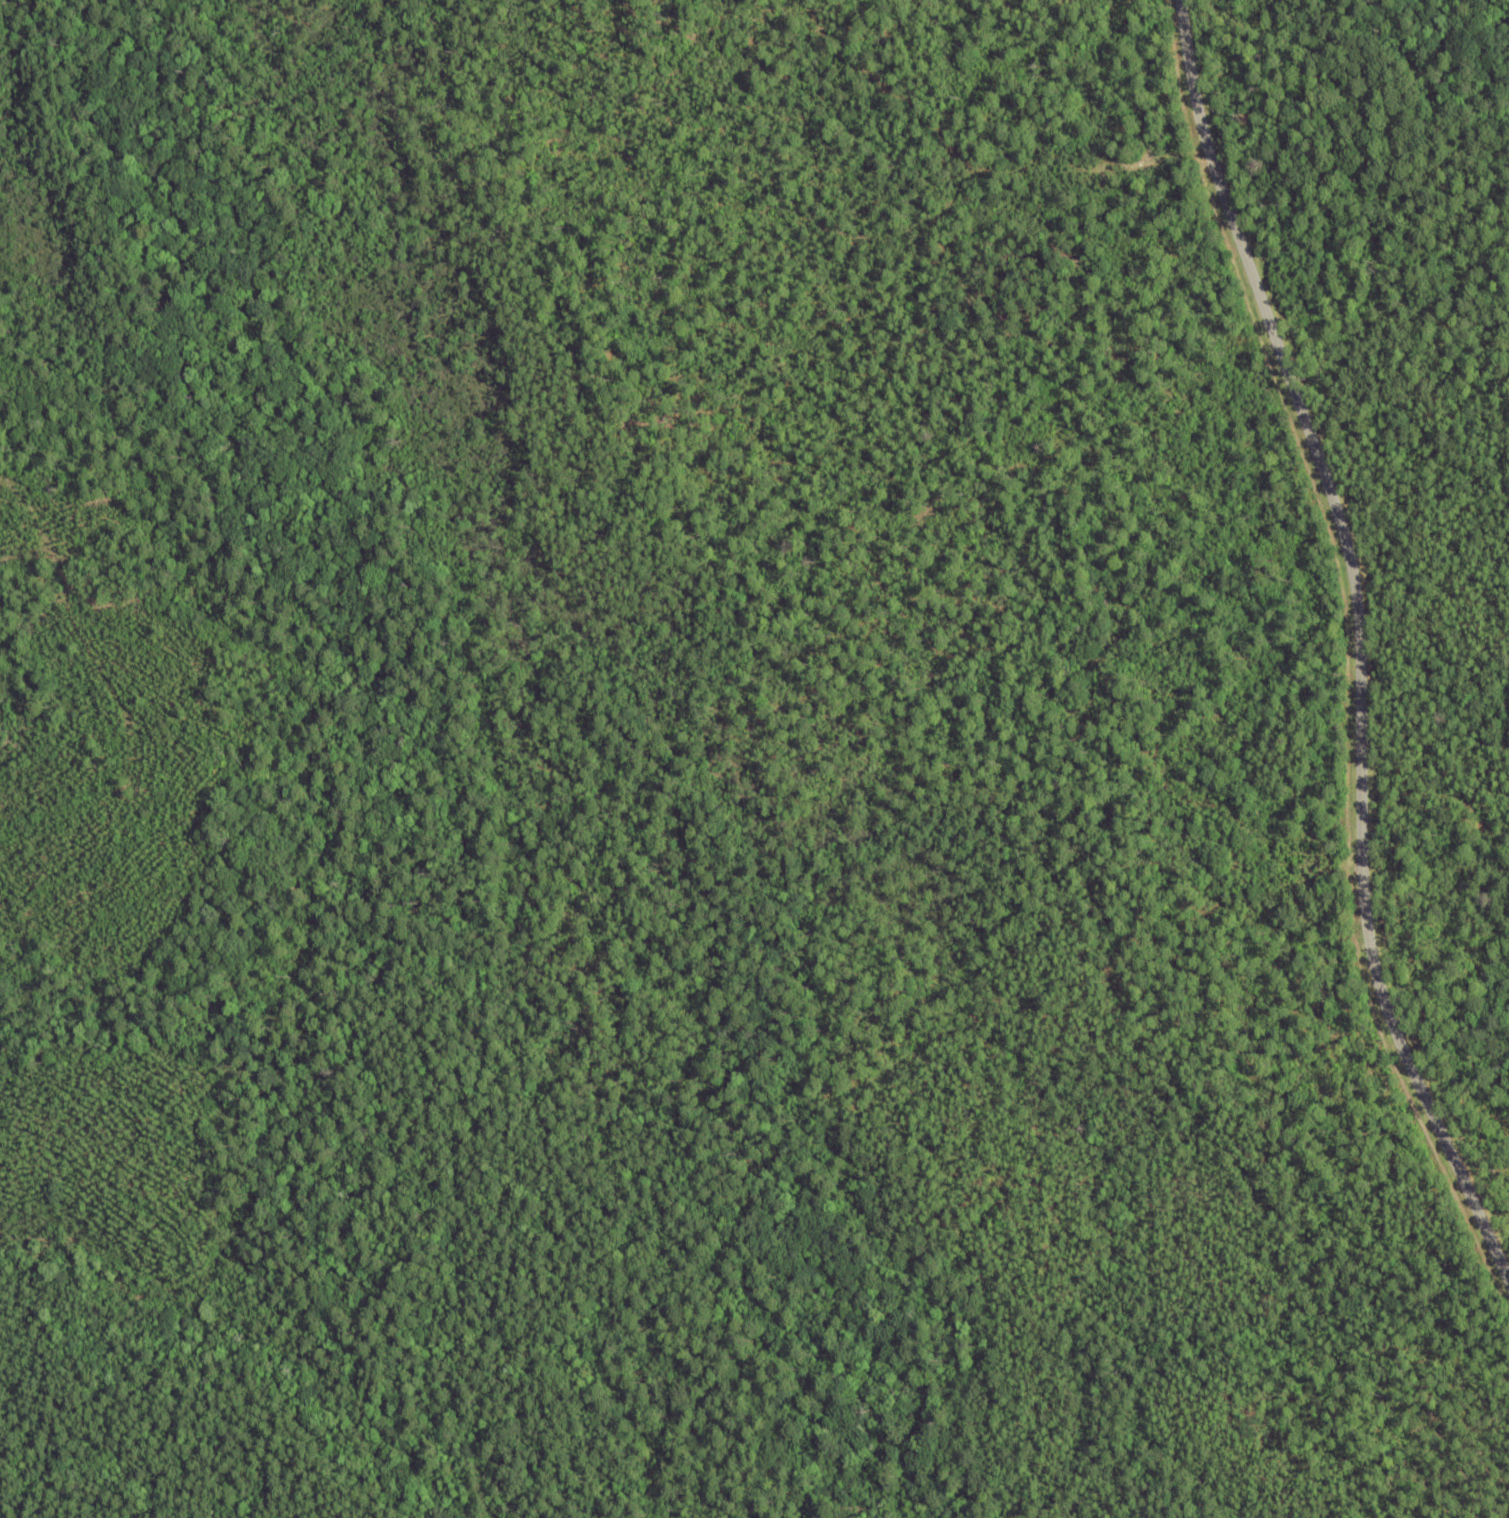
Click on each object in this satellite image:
road: (1362, 640)

